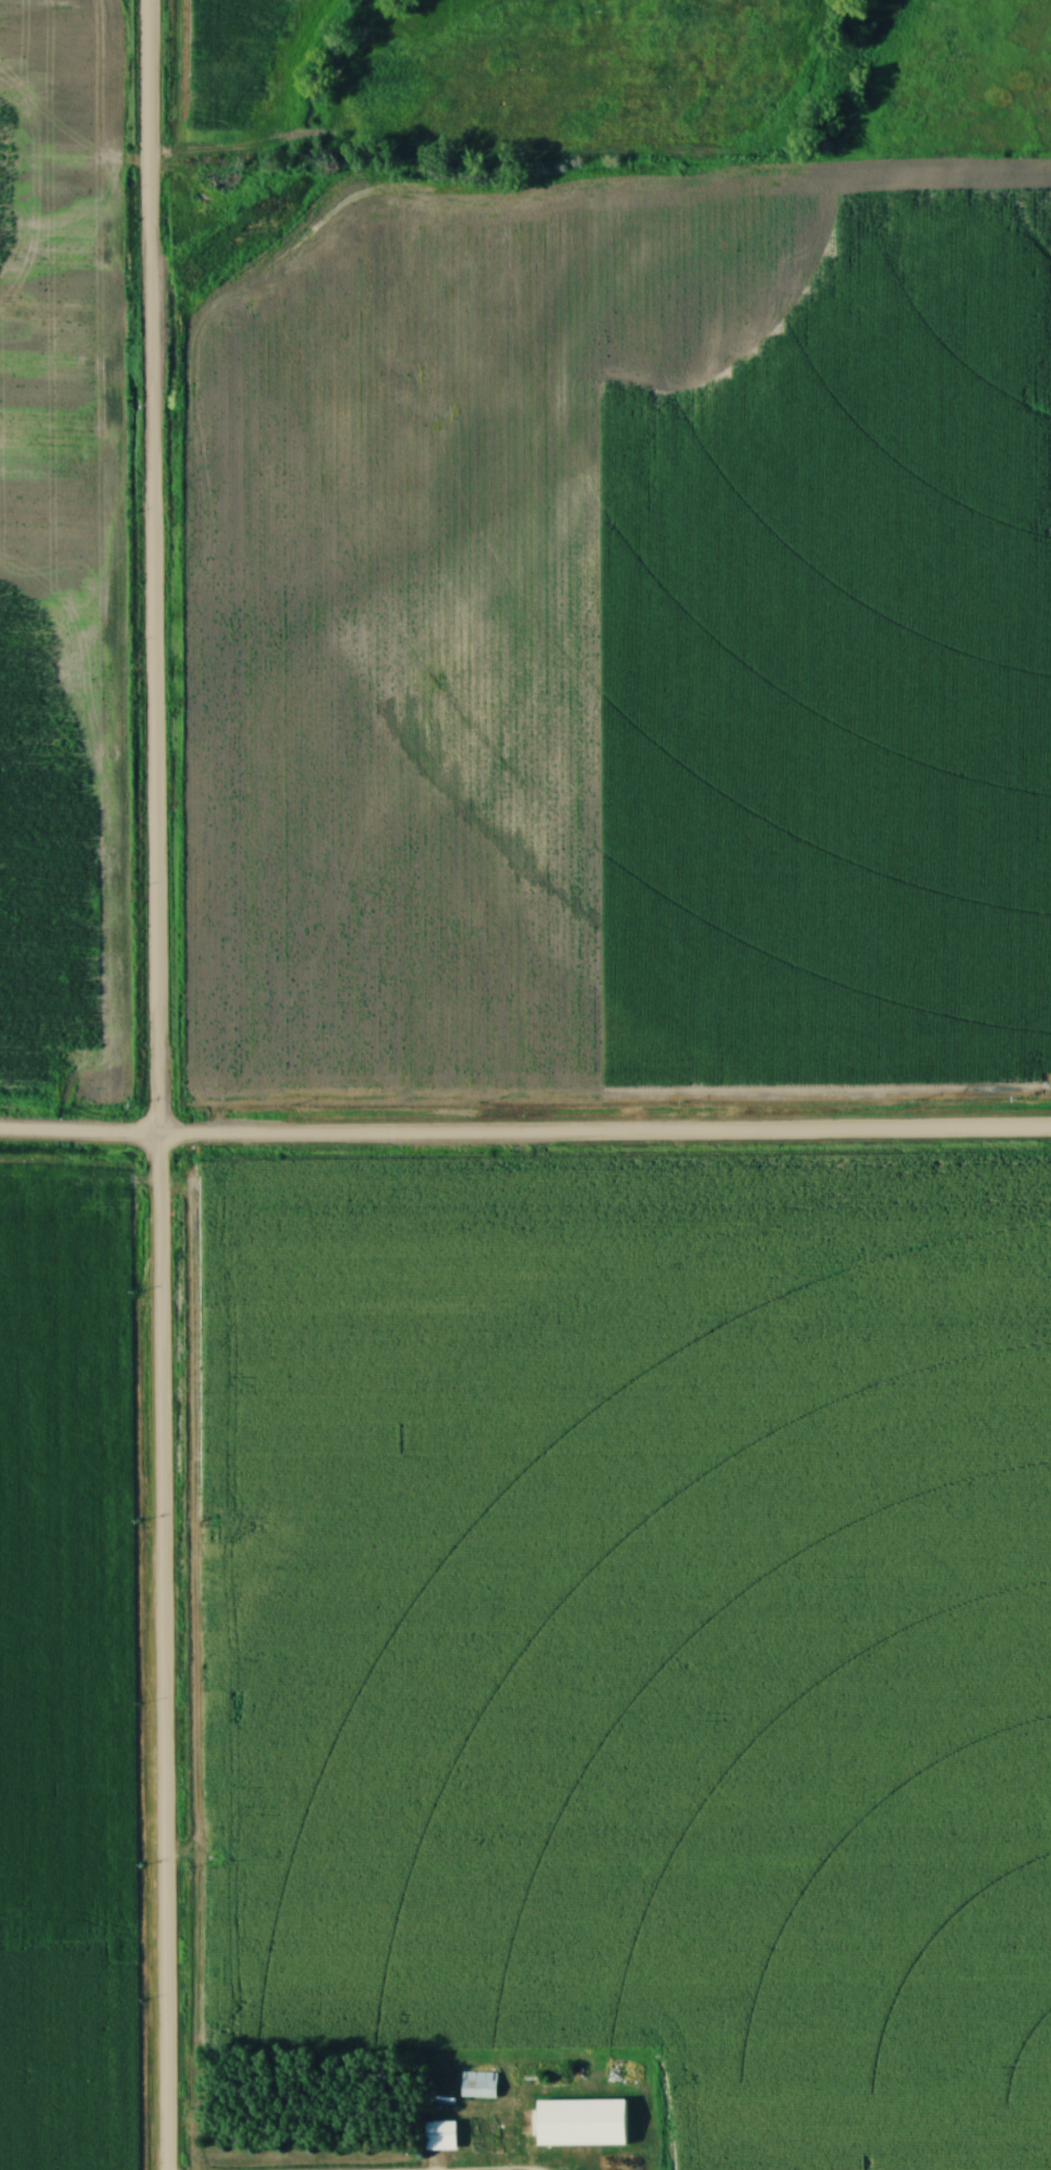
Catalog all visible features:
road: (155, 1084)
road: (525, 1136)
building: (478, 2085)
building: (601, 2132)
building: (440, 2136)
building: (618, 2157)

